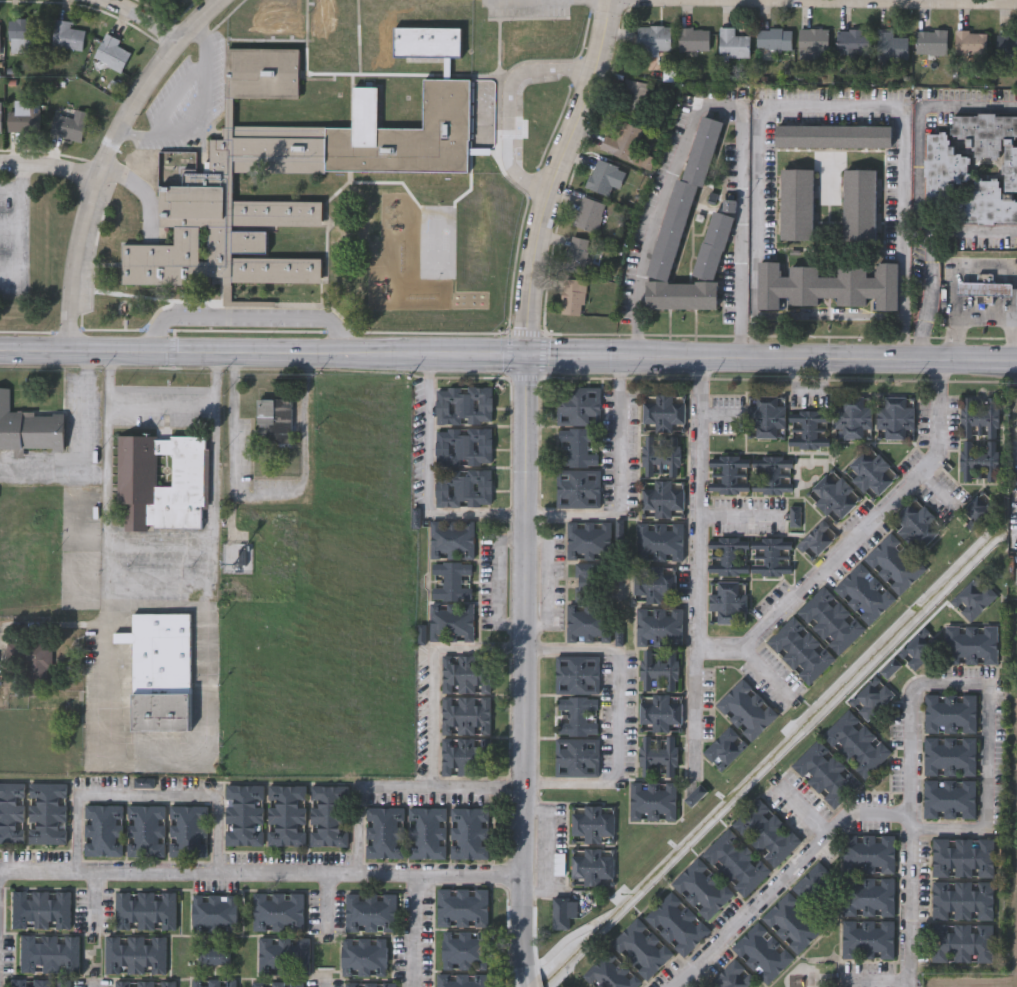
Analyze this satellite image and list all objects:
road: (813, 6)
building: (321, 17)
road: (150, 23)
building: (282, 30)
building: (21, 34)
building: (66, 35)
building: (654, 38)
building: (773, 38)
building: (693, 39)
building: (852, 41)
building: (0, 42)
building: (931, 42)
building: (970, 42)
building: (732, 43)
building: (813, 43)
building: (891, 45)
building: (1006, 46)
building: (111, 52)
road: (183, 88)
building: (632, 95)
road: (712, 100)
road: (509, 102)
road: (834, 110)
building: (23, 116)
building: (1, 123)
building: (69, 125)
road: (133, 134)
building: (833, 137)
building: (622, 141)
road: (109, 157)
building: (936, 164)
road: (52, 165)
building: (289, 167)
building: (1006, 169)
road: (556, 176)
building: (601, 176)
road: (129, 178)
road: (10, 187)
road: (921, 189)
building: (683, 198)
building: (796, 205)
building: (860, 206)
building: (588, 214)
road: (19, 229)
road: (969, 229)
road: (9, 230)
building: (577, 255)
road: (962, 270)
building: (693, 274)
building: (827, 286)
building: (984, 288)
building: (571, 297)
road: (247, 316)
road: (829, 316)
road: (966, 320)
road: (1014, 339)
road: (508, 356)
traffic signals: (528, 357)
road: (108, 377)
road: (161, 401)
building: (463, 405)
building: (578, 405)
building: (662, 413)
building: (765, 416)
building: (851, 416)
building: (894, 417)
building: (979, 417)
building: (275, 419)
building: (29, 429)
building: (808, 429)
building: (463, 446)
building: (577, 446)
building: (659, 456)
building: (978, 461)
building: (137, 470)
building: (869, 472)
building: (727, 475)
building: (770, 475)
road: (618, 480)
road: (426, 482)
building: (462, 487)
building: (577, 487)
road: (267, 495)
building: (833, 495)
building: (661, 498)
road: (736, 516)
building: (794, 516)
building: (915, 524)
building: (451, 538)
building: (815, 538)
building: (588, 540)
building: (658, 540)
building: (727, 556)
building: (770, 557)
building: (893, 563)
building: (450, 580)
road: (505, 580)
building: (585, 581)
building: (654, 583)
building: (862, 594)
building: (974, 597)
building: (727, 601)
building: (830, 620)
building: (451, 622)
building: (588, 623)
building: (659, 627)
road: (756, 642)
building: (971, 645)
building: (919, 648)
building: (800, 650)
building: (37, 663)
road: (523, 664)
building: (160, 669)
building: (657, 670)
building: (466, 674)
building: (576, 674)
road: (431, 675)
road: (989, 689)
building: (871, 698)
road: (697, 709)
building: (746, 709)
building: (949, 713)
building: (660, 714)
building: (465, 715)
building: (576, 715)
road: (617, 719)
building: (855, 744)
building: (725, 748)
road: (141, 756)
building: (465, 756)
building: (949, 756)
building: (575, 757)
building: (657, 757)
building: (824, 774)
road: (398, 789)
road: (146, 796)
building: (697, 797)
building: (651, 800)
building: (948, 800)
building: (12, 811)
building: (46, 811)
building: (242, 814)
building: (285, 815)
building: (327, 815)
building: (592, 823)
road: (912, 824)
building: (101, 829)
building: (145, 829)
building: (186, 829)
building: (383, 830)
building: (766, 830)
building: (427, 831)
building: (468, 831)
building: (869, 852)
building: (963, 857)
building: (736, 860)
building: (560, 866)
building: (592, 866)
road: (260, 874)
building: (814, 880)
road: (787, 884)
building: (700, 886)
building: (867, 895)
road: (94, 898)
building: (963, 898)
road: (324, 902)
building: (462, 906)
building: (39, 908)
building: (143, 908)
building: (277, 910)
road: (913, 910)
building: (371, 911)
building: (213, 912)
building: (791, 922)
building: (676, 923)
road: (413, 931)
building: (867, 937)
building: (963, 941)
building: (642, 947)
building: (464, 949)
building: (48, 951)
building: (763, 952)
building: (135, 953)
building: (213, 954)
building: (282, 954)
building: (363, 955)
building: (610, 972)
building: (731, 976)
building: (461, 979)
road: (525, 979)
building: (40, 982)
building: (213, 982)
building: (144, 983)
building: (276, 983)
building: (370, 984)
road: (325, 985)

